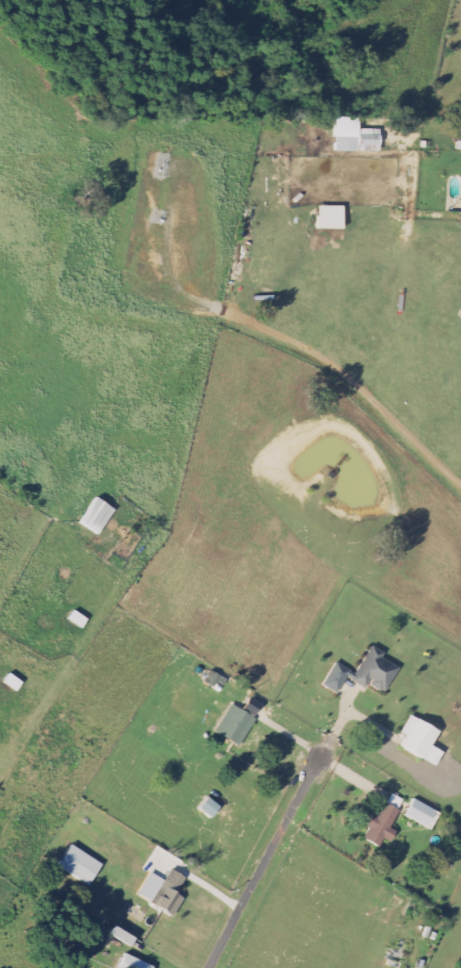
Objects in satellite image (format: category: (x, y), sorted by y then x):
building: (355, 136)
building: (331, 218)
building: (97, 517)
building: (364, 673)
building: (235, 726)
building: (421, 740)
building: (422, 815)
building: (383, 822)
road: (265, 861)
building: (80, 865)
building: (163, 892)
building: (134, 963)

